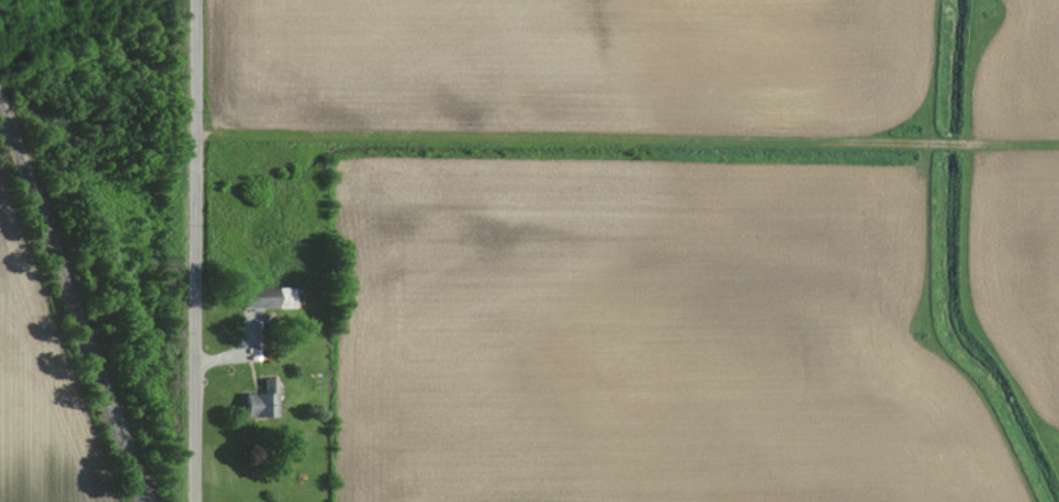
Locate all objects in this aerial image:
road: (195, 251)
railway: (75, 294)
building: (274, 297)
building: (266, 401)

